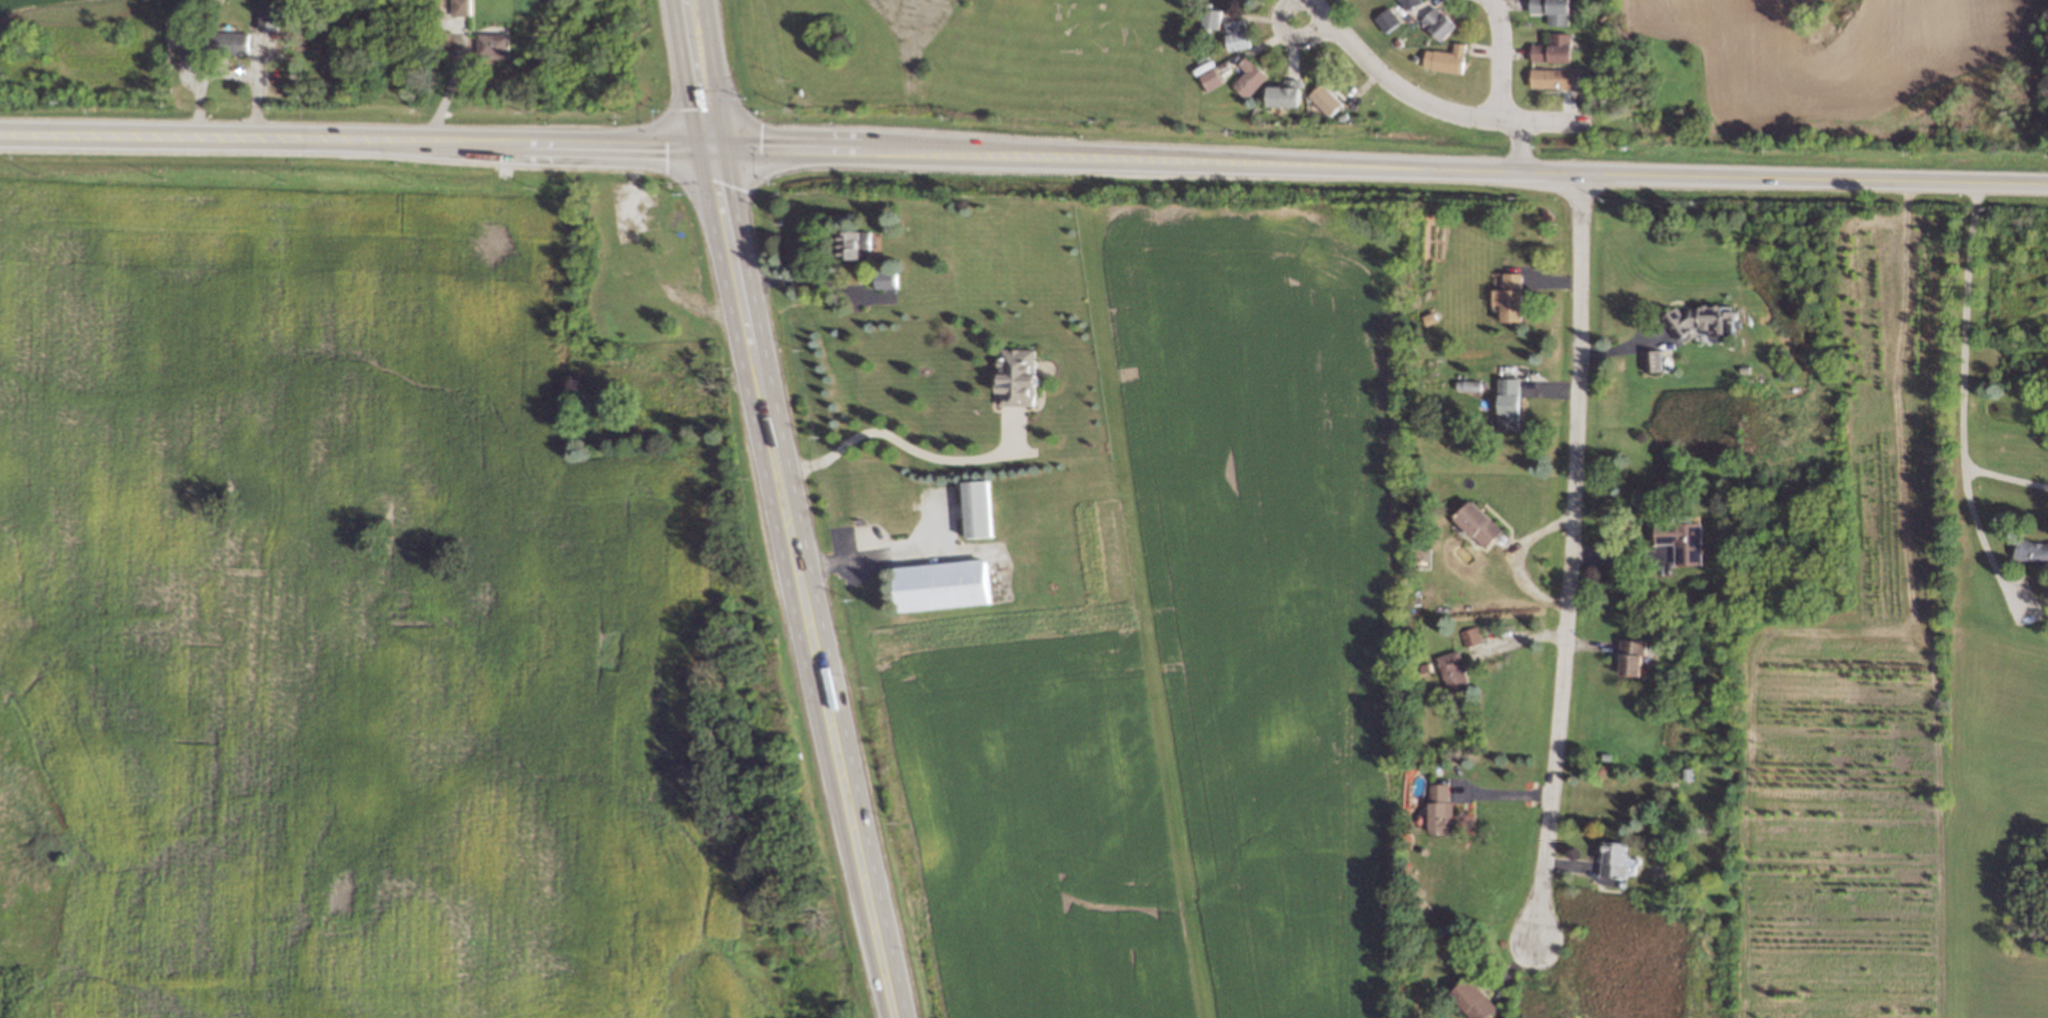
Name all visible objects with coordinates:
building: (1241, 1)
building: (1244, 1)
building: (1405, 2)
building: (458, 6)
building: (1551, 9)
building: (269, 14)
building: (1206, 16)
building: (1383, 16)
building: (1440, 18)
building: (1233, 33)
road: (1288, 33)
building: (224, 43)
building: (489, 43)
building: (191, 45)
building: (1550, 47)
building: (1446, 54)
road: (1501, 58)
park: (2047, 62)
road: (690, 71)
road: (713, 71)
building: (1245, 74)
building: (1206, 75)
building: (1552, 75)
building: (1282, 90)
building: (1322, 95)
road: (1427, 104)
road: (356, 138)
traffic signals: (702, 142)
traffic signals: (727, 143)
road: (1518, 148)
road: (1147, 158)
road: (1815, 183)
building: (854, 244)
building: (886, 279)
road: (815, 282)
building: (1512, 297)
building: (1704, 320)
building: (1653, 360)
building: (1022, 376)
building: (1509, 403)
road: (1962, 404)
road: (917, 450)
road: (2006, 474)
building: (983, 509)
building: (1480, 524)
building: (1684, 540)
building: (2033, 551)
road: (878, 555)
road: (1518, 560)
road: (1570, 560)
road: (816, 580)
road: (791, 581)
building: (947, 585)
building: (1471, 636)
building: (1632, 658)
crop: (1193, 663)
building: (1454, 672)
crop: (1889, 732)
building: (1441, 809)
building: (1615, 859)
building: (1474, 1000)

